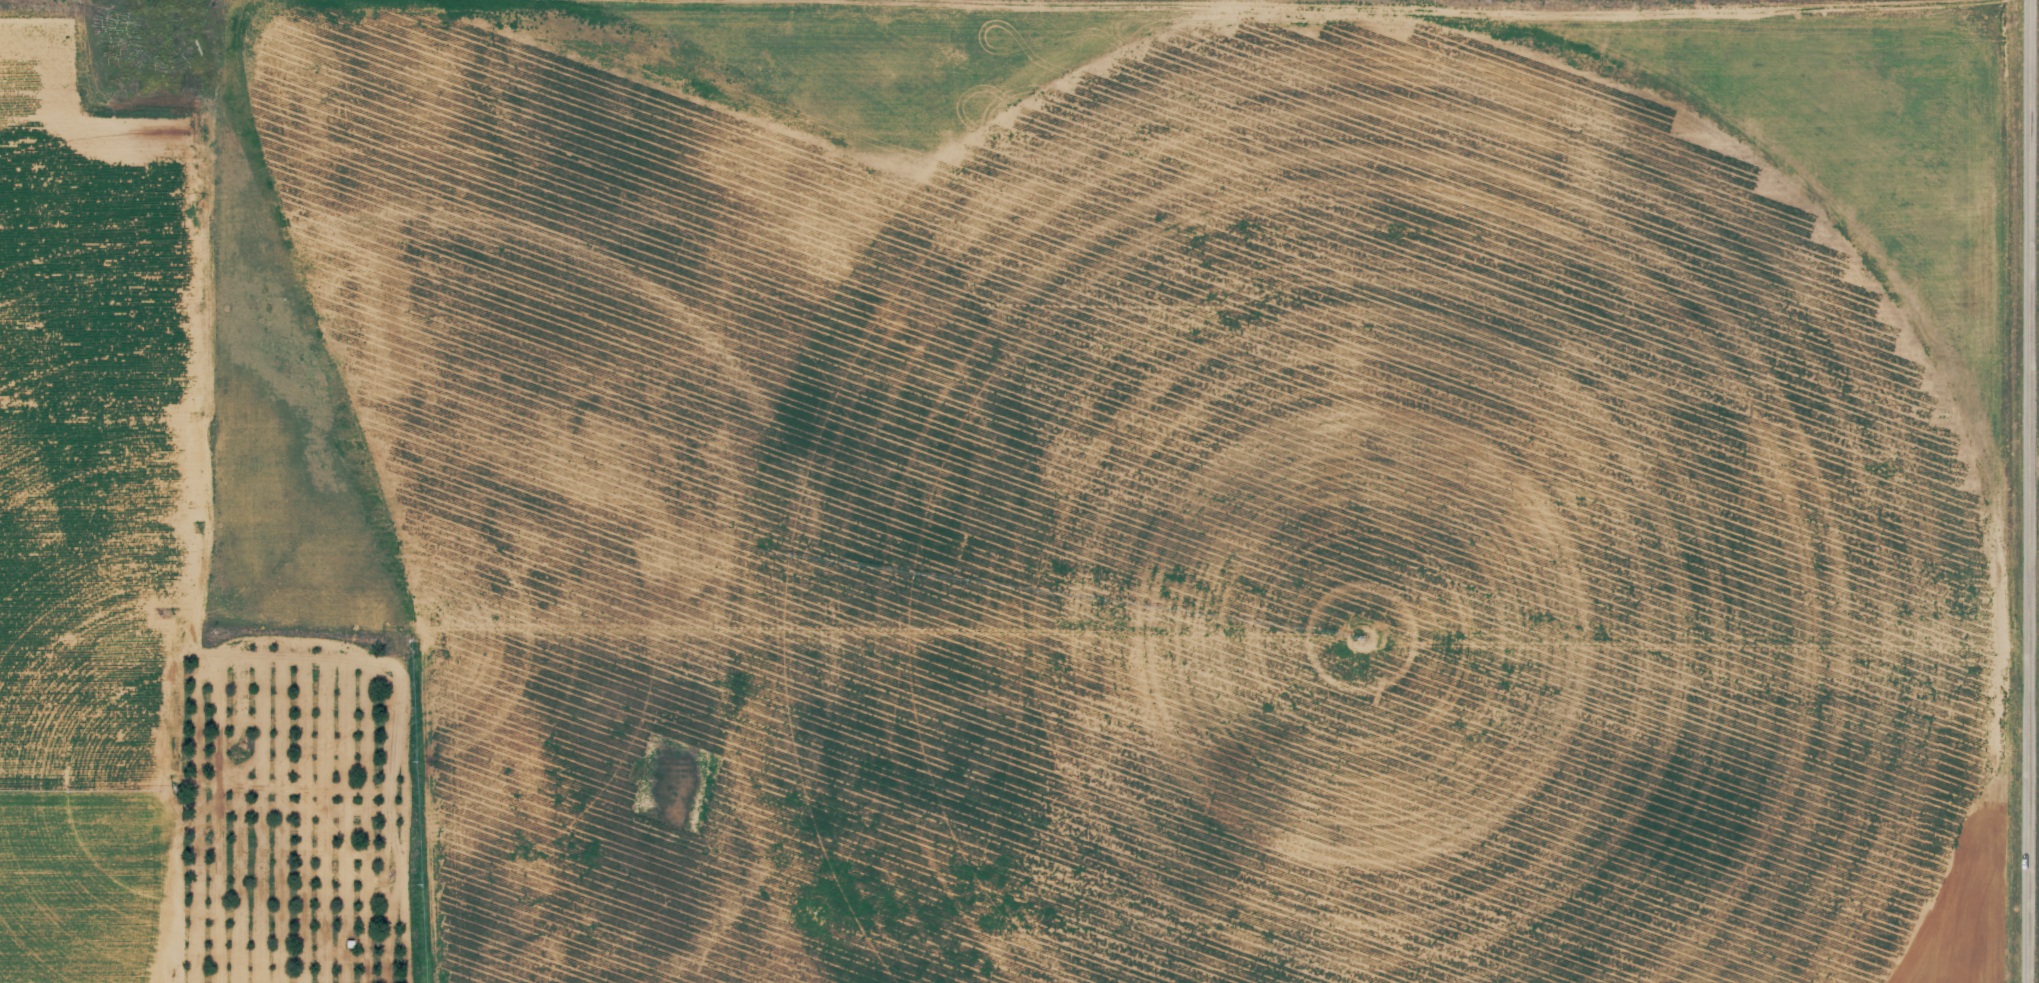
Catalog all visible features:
road: (2030, 491)

